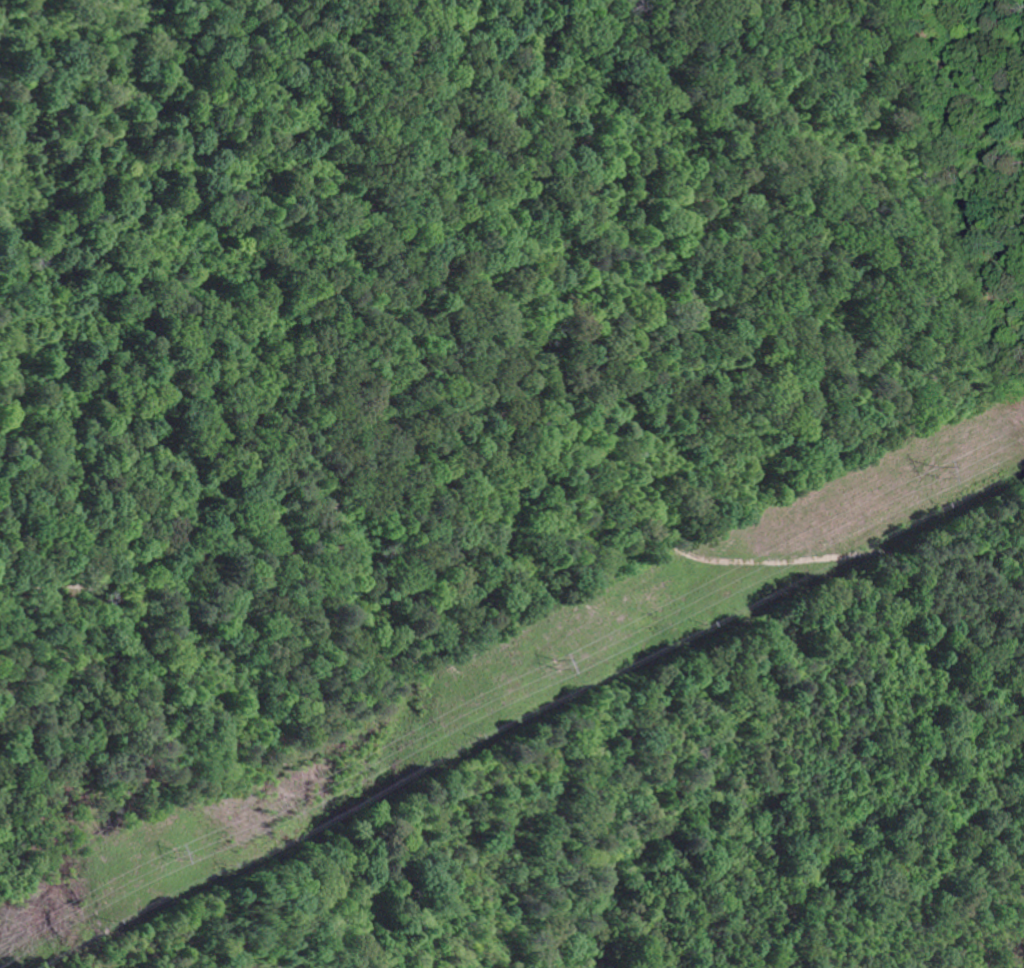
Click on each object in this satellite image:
power tower: (936, 480)
power tower: (551, 663)
power tower: (169, 852)

